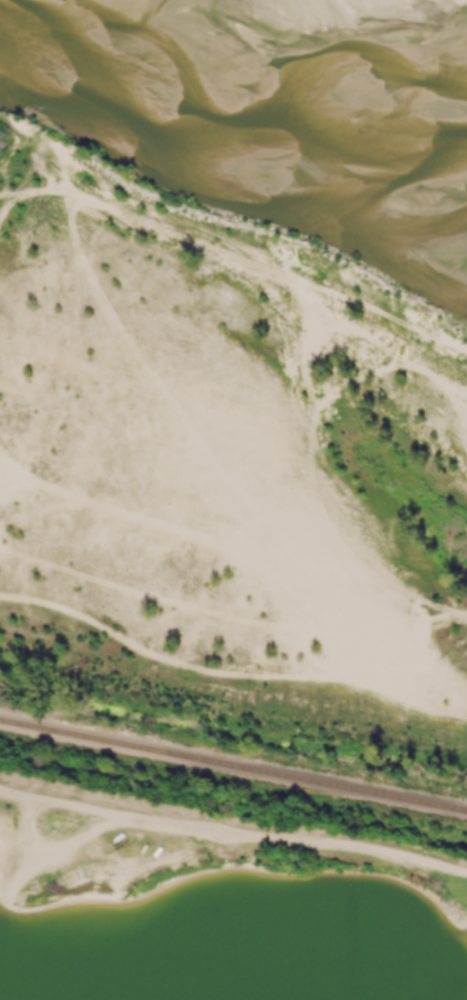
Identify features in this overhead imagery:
road: (234, 694)
railway: (233, 769)

